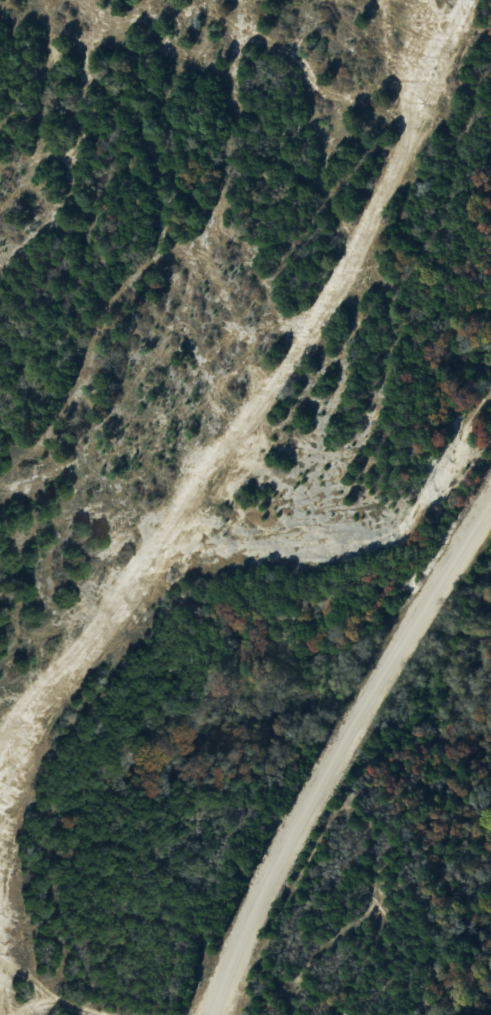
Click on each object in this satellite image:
road: (234, 445)
road: (338, 751)

